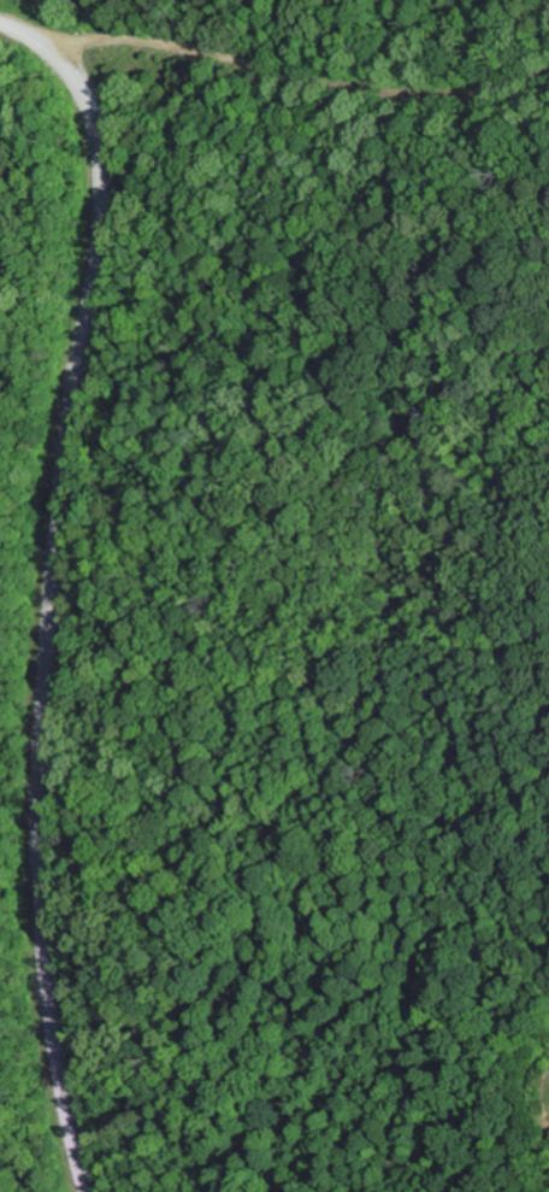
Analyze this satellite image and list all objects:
road: (52, 586)

